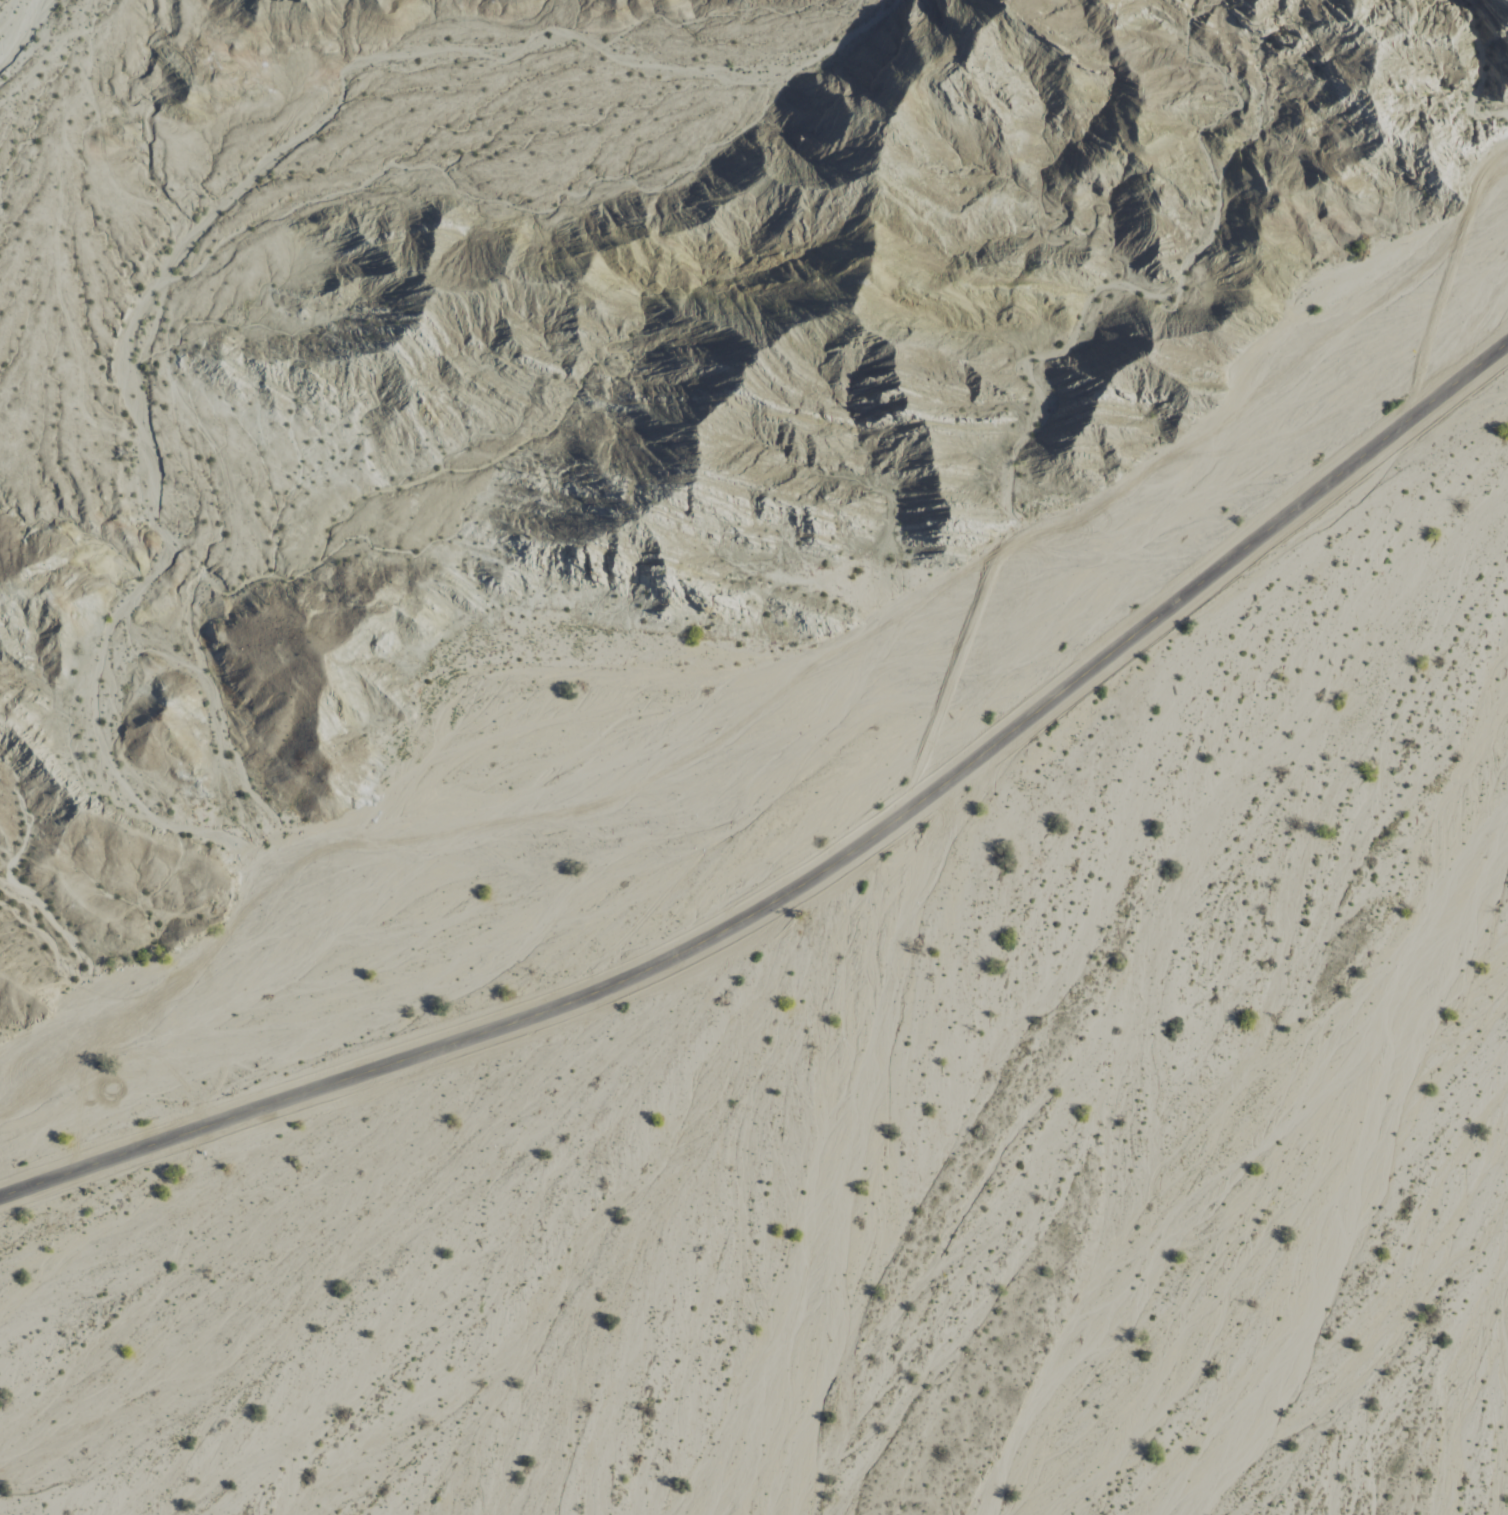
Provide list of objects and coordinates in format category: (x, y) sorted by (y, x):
road: (813, 875)

